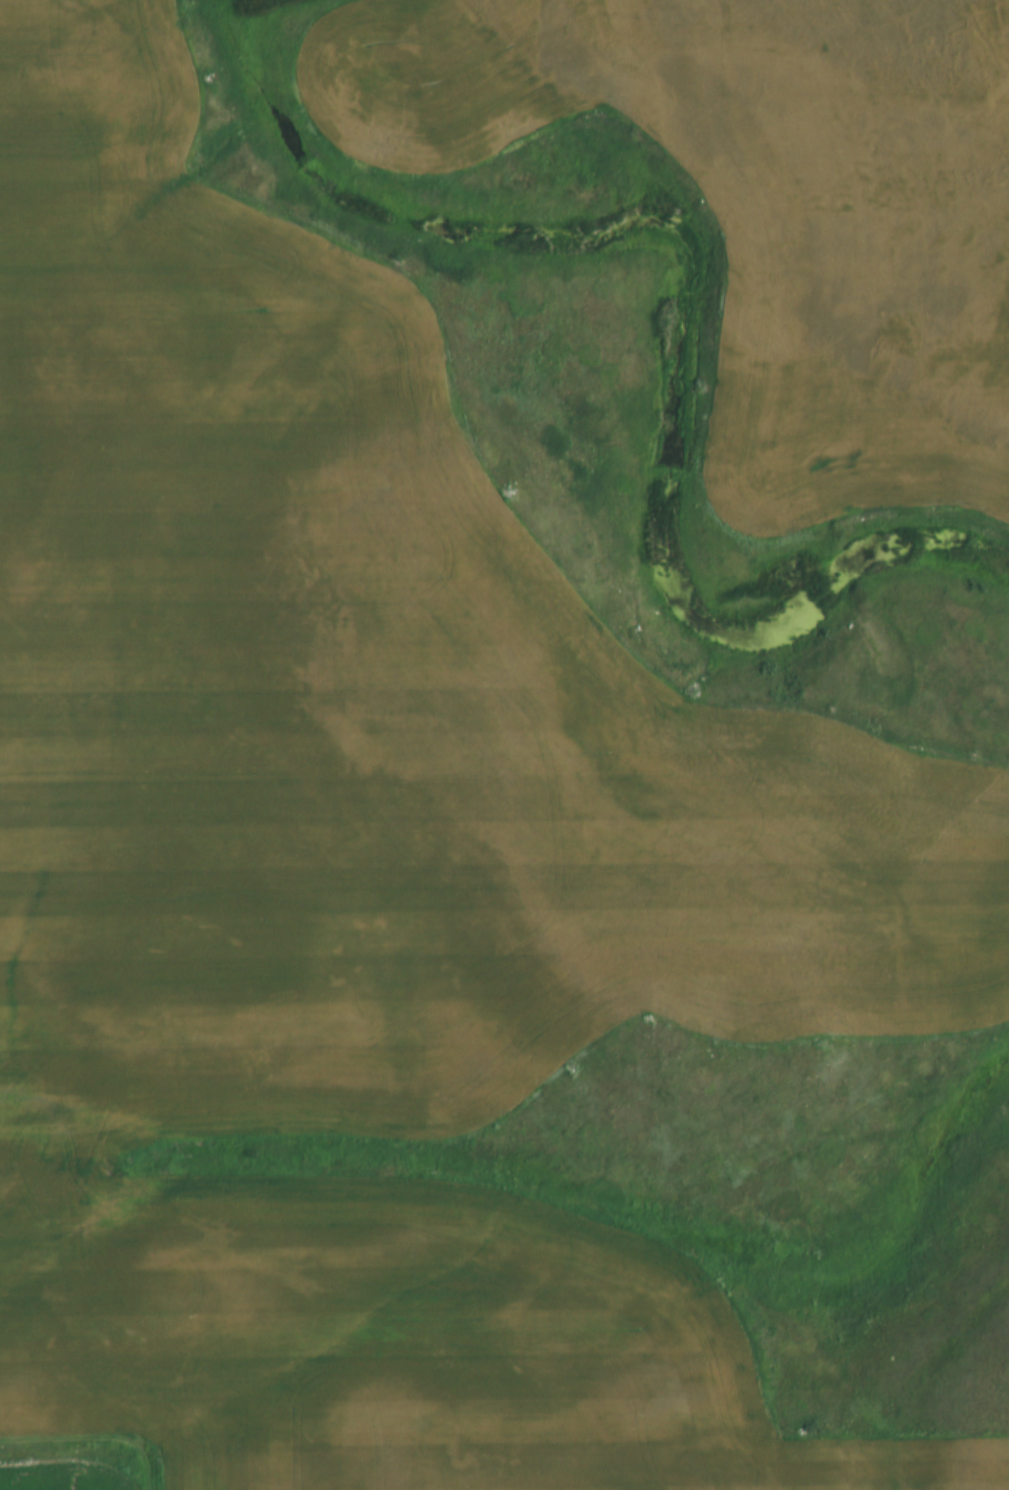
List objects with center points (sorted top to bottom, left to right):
road: (504, 1434)
road: (147, 1465)

